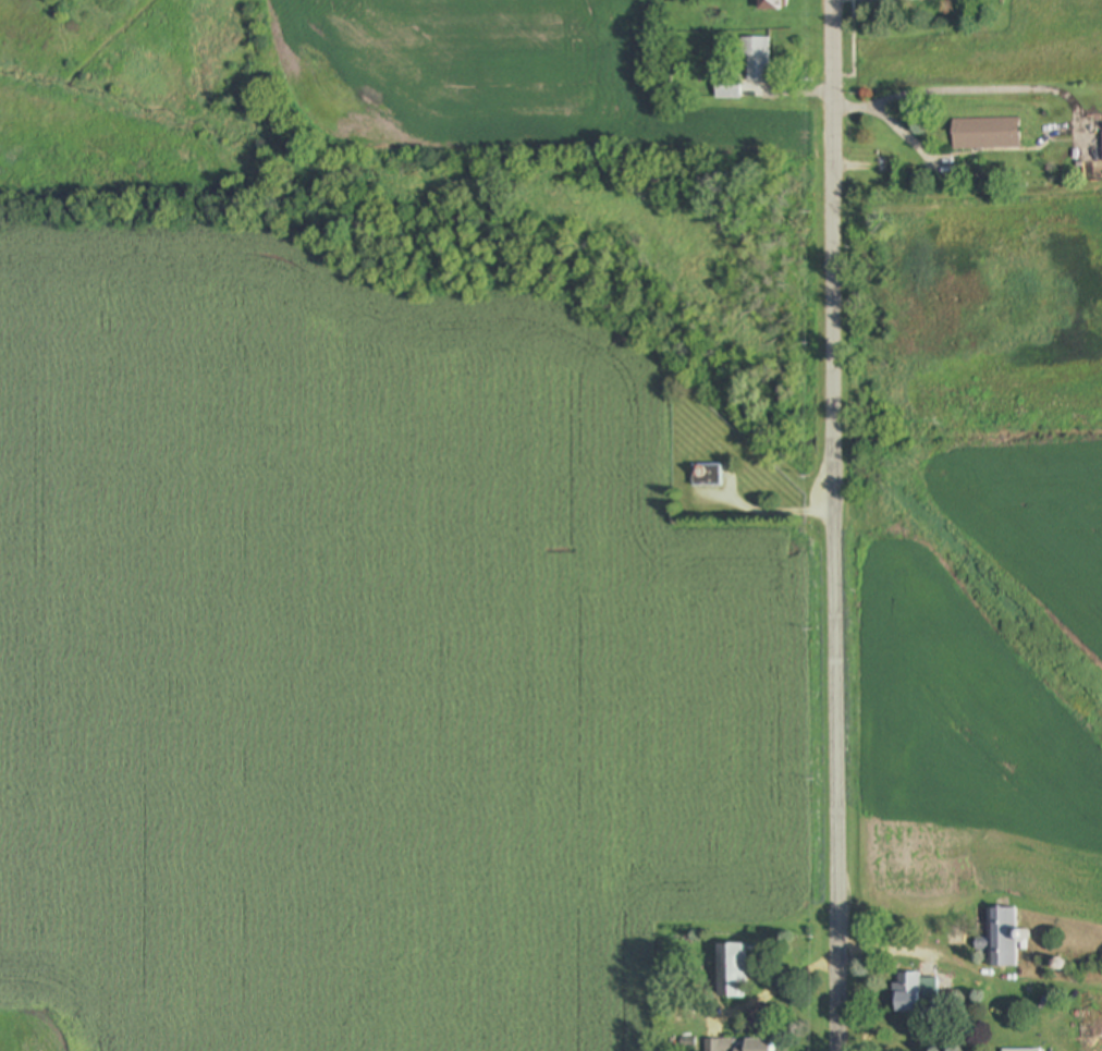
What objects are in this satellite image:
building: (768, 4)
building: (757, 60)
building: (727, 88)
road: (832, 101)
road: (891, 121)
building: (987, 134)
building: (707, 476)
road: (834, 627)
building: (1002, 938)
building: (731, 971)
building: (907, 993)
building: (739, 1046)
building: (1021, 1050)

